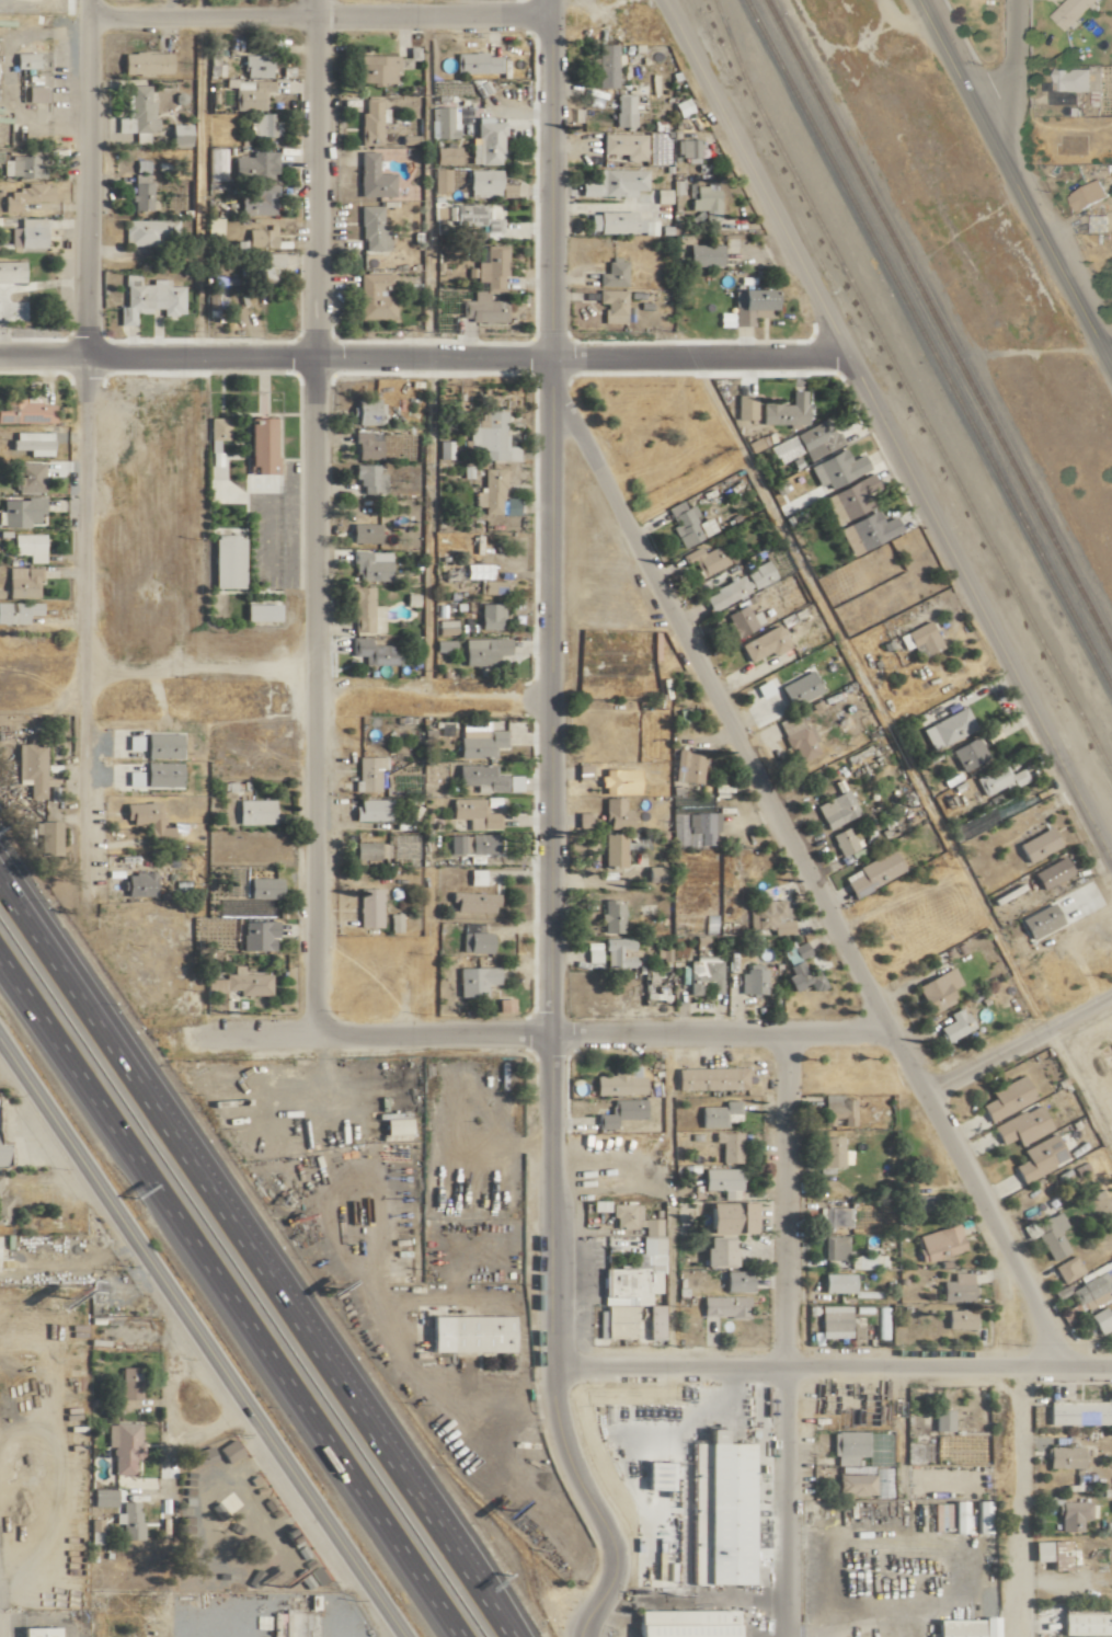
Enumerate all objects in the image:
building: (1068, 12)
road: (318, 15)
building: (24, 60)
building: (144, 64)
building: (477, 64)
road: (1012, 65)
building: (254, 66)
building: (605, 67)
road: (1028, 70)
building: (1074, 80)
building: (249, 94)
building: (138, 108)
building: (622, 110)
building: (369, 122)
building: (444, 122)
building: (264, 125)
building: (176, 135)
building: (485, 141)
building: (622, 145)
building: (686, 148)
building: (444, 154)
building: (20, 167)
building: (252, 167)
road: (195, 175)
road: (85, 176)
road: (550, 176)
road: (755, 176)
building: (371, 178)
road: (1013, 178)
building: (440, 180)
building: (488, 182)
building: (618, 182)
building: (1090, 193)
building: (25, 197)
building: (256, 202)
building: (704, 202)
building: (474, 218)
building: (1096, 222)
building: (617, 224)
building: (370, 229)
building: (148, 232)
building: (25, 233)
building: (259, 238)
building: (702, 255)
building: (265, 266)
building: (489, 266)
building: (9, 272)
building: (611, 273)
building: (375, 296)
building: (147, 299)
building: (611, 305)
building: (216, 306)
building: (748, 306)
building: (482, 308)
railway: (939, 323)
railway: (929, 343)
road: (43, 354)
road: (317, 354)
road: (698, 354)
road: (1110, 354)
road: (1110, 357)
railway: (907, 388)
building: (744, 407)
building: (23, 410)
building: (783, 410)
building: (366, 411)
building: (216, 427)
building: (489, 438)
building: (816, 438)
building: (31, 442)
building: (259, 444)
building: (364, 446)
building: (835, 468)
building: (26, 477)
building: (367, 478)
building: (488, 492)
building: (848, 499)
building: (19, 512)
road: (312, 515)
building: (686, 523)
road: (428, 524)
building: (865, 530)
building: (362, 533)
building: (27, 546)
building: (703, 559)
building: (223, 562)
building: (369, 564)
building: (21, 582)
building: (737, 585)
building: (490, 586)
building: (778, 597)
road: (979, 607)
building: (364, 610)
building: (16, 611)
building: (259, 611)
road: (85, 615)
building: (488, 615)
building: (738, 621)
building: (444, 627)
building: (918, 638)
building: (761, 643)
building: (442, 645)
building: (482, 650)
building: (372, 652)
road: (199, 656)
building: (798, 688)
road: (867, 692)
building: (944, 728)
building: (799, 739)
building: (478, 742)
building: (160, 745)
building: (965, 753)
building: (28, 765)
building: (686, 766)
building: (367, 771)
building: (160, 774)
building: (479, 778)
building: (997, 778)
building: (369, 809)
building: (834, 809)
building: (252, 811)
building: (472, 813)
building: (614, 813)
building: (147, 821)
building: (47, 837)
building: (844, 840)
building: (470, 844)
building: (1035, 844)
building: (388, 848)
building: (611, 849)
road: (806, 869)
building: (872, 872)
building: (1048, 872)
building: (654, 873)
building: (136, 884)
building: (262, 888)
building: (703, 893)
building: (471, 901)
building: (367, 907)
building: (706, 911)
building: (610, 916)
building: (768, 916)
building: (393, 921)
building: (255, 935)
building: (472, 941)
building: (618, 951)
building: (798, 970)
building: (700, 974)
building: (750, 978)
building: (473, 980)
building: (238, 983)
building: (936, 989)
road: (548, 1006)
building: (953, 1024)
road: (539, 1033)
road: (1019, 1043)
building: (708, 1078)
building: (616, 1084)
road: (1078, 1092)
building: (1005, 1098)
building: (837, 1111)
building: (871, 1111)
building: (619, 1112)
building: (718, 1114)
building: (1020, 1125)
building: (392, 1126)
building: (726, 1146)
building: (829, 1152)
building: (1, 1154)
building: (1038, 1157)
building: (718, 1178)
building: (921, 1203)
building: (5, 1207)
building: (835, 1216)
building: (727, 1217)
road: (240, 1235)
building: (1050, 1235)
building: (937, 1243)
building: (833, 1247)
building: (714, 1251)
building: (864, 1261)
building: (1066, 1269)
building: (633, 1277)
building: (735, 1281)
building: (835, 1282)
building: (954, 1287)
building: (1090, 1291)
road: (226, 1302)
building: (722, 1306)
building: (958, 1318)
building: (1100, 1319)
building: (833, 1321)
building: (466, 1333)
road: (781, 1335)
road: (200, 1342)
road: (830, 1364)
building: (127, 1390)
building: (1079, 1412)
building: (940, 1420)
building: (121, 1446)
building: (849, 1446)
building: (227, 1451)
building: (921, 1451)
building: (1063, 1456)
building: (198, 1457)
building: (852, 1485)
building: (101, 1497)
road: (1018, 1500)
building: (717, 1512)
building: (1073, 1514)
building: (977, 1518)
building: (127, 1520)
building: (93, 1531)
building: (1048, 1553)
road: (1064, 1586)
road: (495, 1613)
building: (681, 1623)
building: (1085, 1624)
building: (954, 1627)
building: (35, 1632)
road: (584, 1636)

